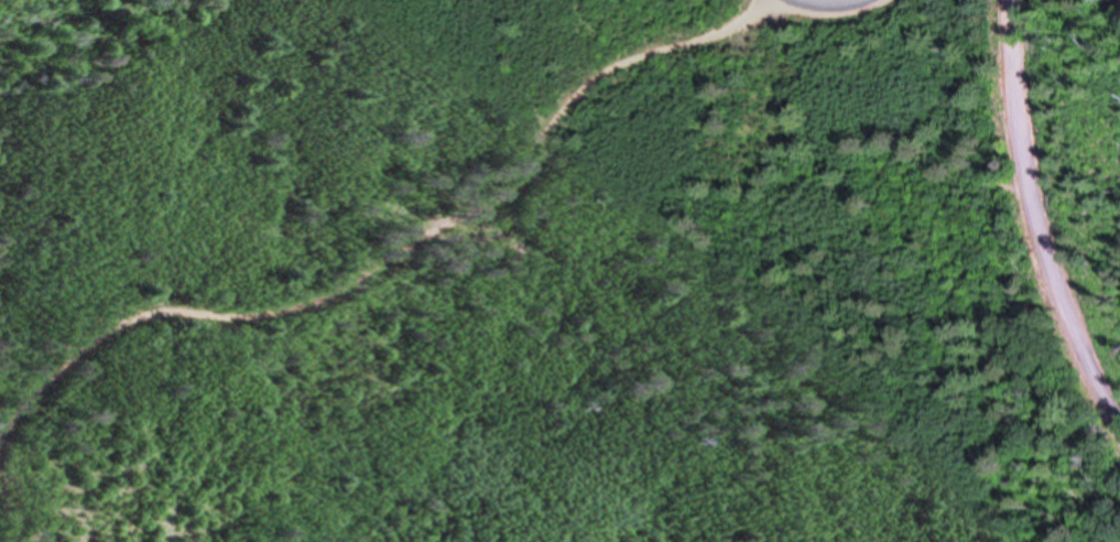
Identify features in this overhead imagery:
road: (1045, 205)
road: (393, 249)

